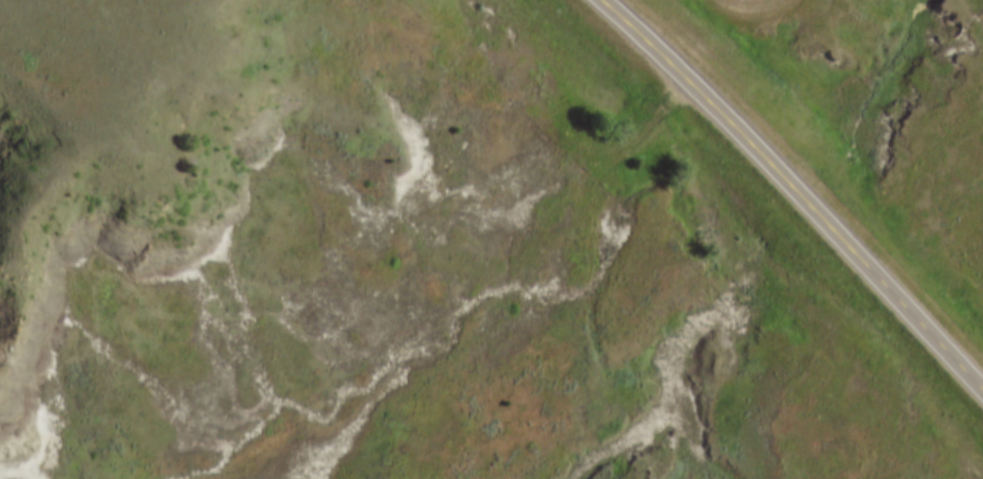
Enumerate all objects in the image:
road: (794, 188)

